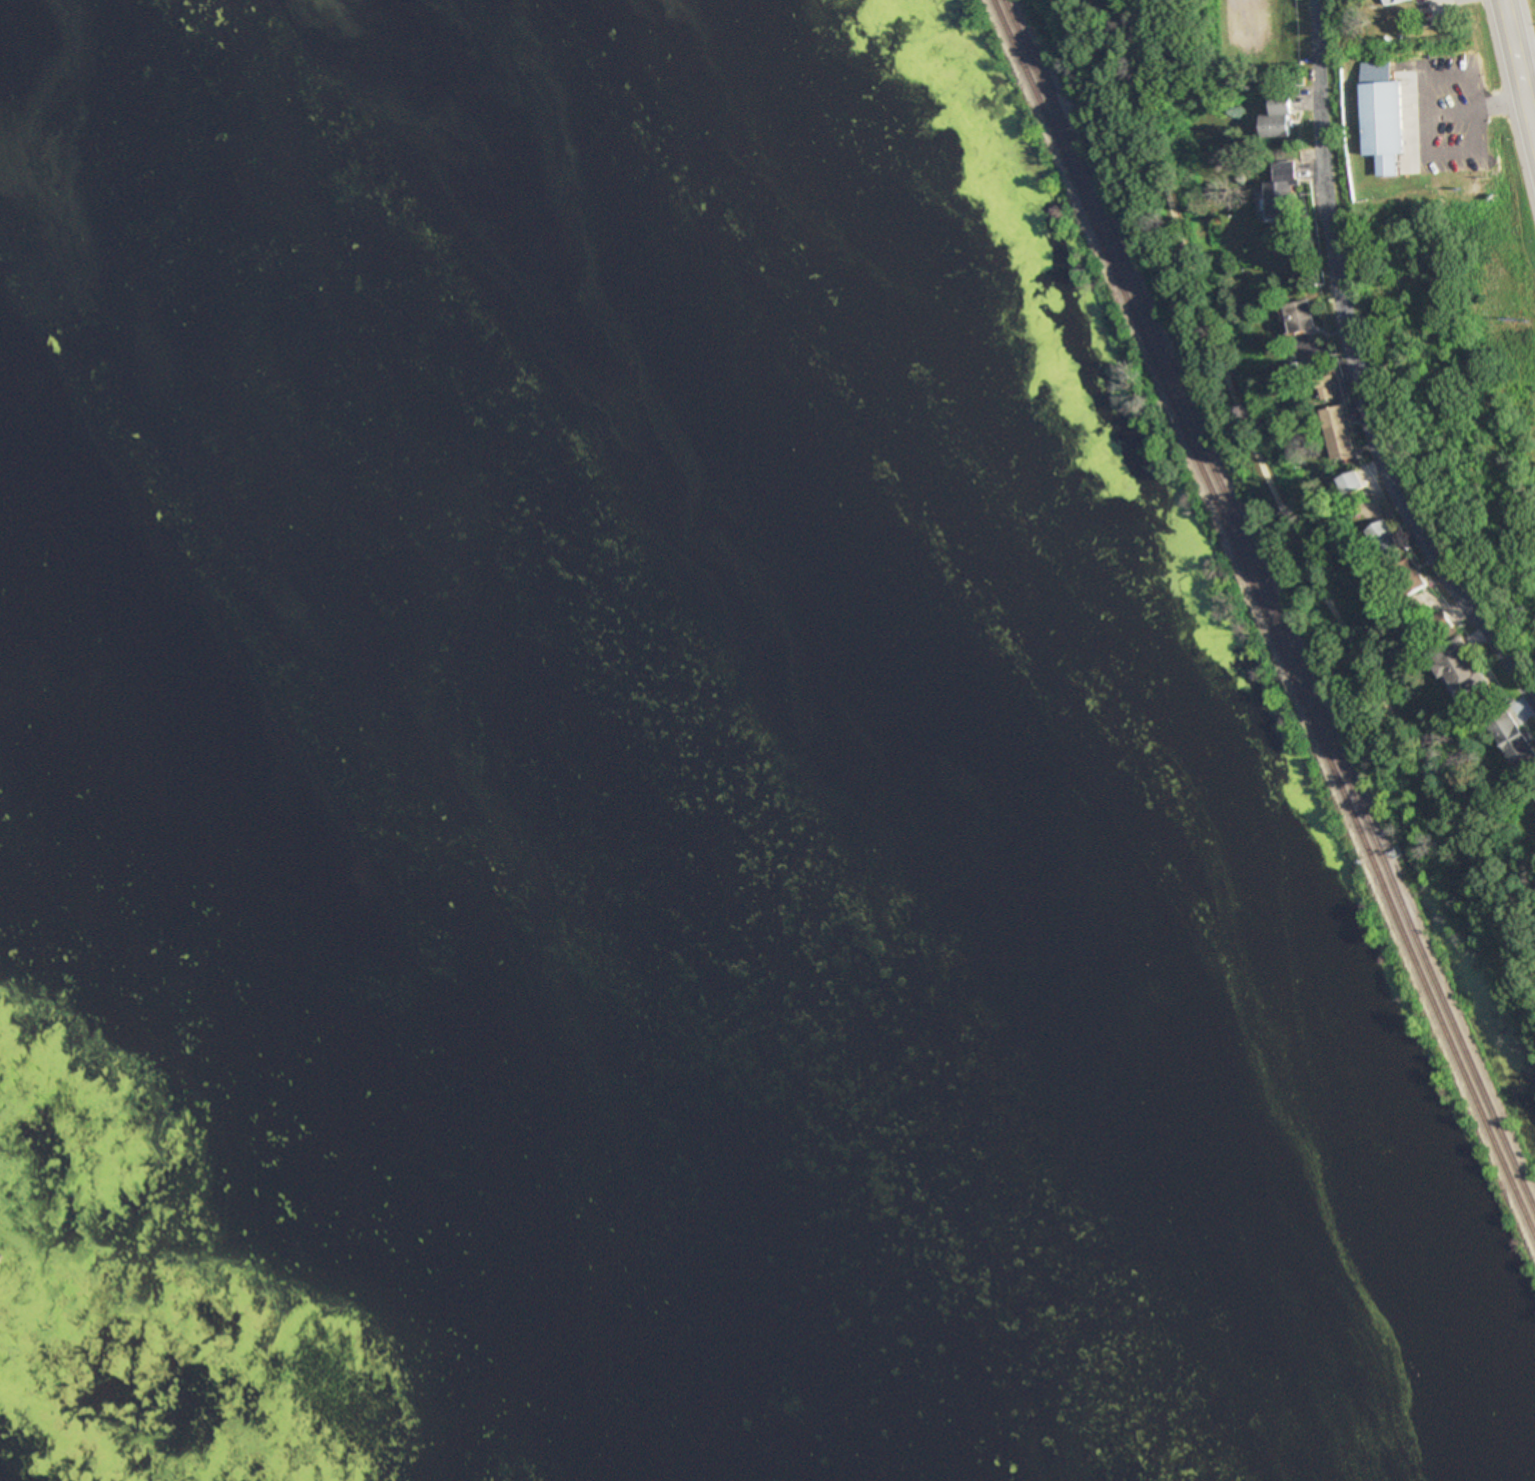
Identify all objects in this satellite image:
building: (1393, 1)
road: (1248, 26)
road: (1525, 35)
road: (1151, 68)
road: (1515, 91)
building: (1277, 117)
building: (1382, 117)
building: (1280, 194)
building: (1300, 317)
road: (1359, 372)
building: (1324, 386)
building: (1339, 433)
building: (1353, 483)
road: (1264, 485)
building: (1386, 539)
building: (1412, 576)
railway: (1269, 605)
railway: (1263, 618)
building: (1461, 666)
building: (1514, 740)

